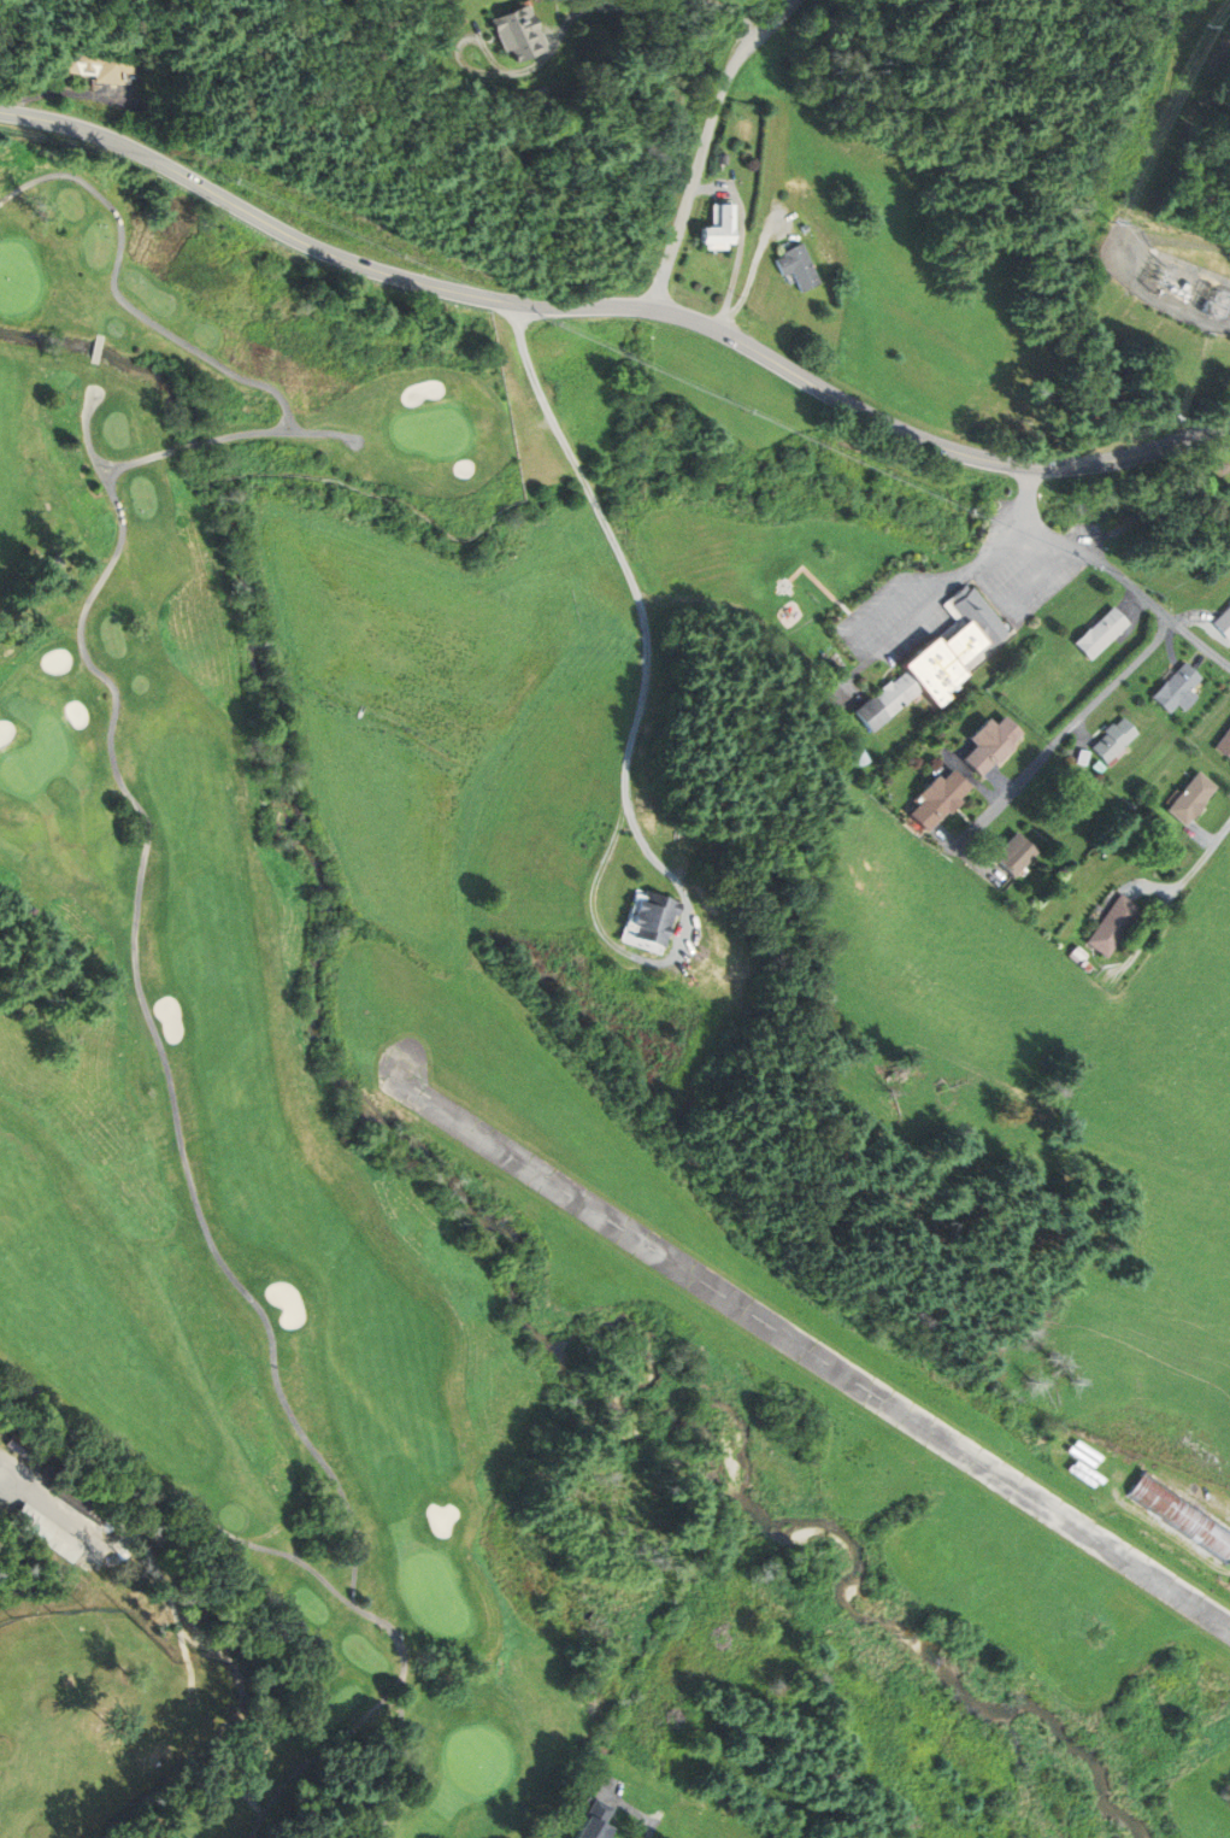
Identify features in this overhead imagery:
power tower: (1201, 24)
road: (566, 25)
building: (519, 33)
building: (100, 65)
road: (69, 93)
road: (704, 142)
power tower: (1107, 222)
building: (720, 228)
road: (742, 240)
building: (800, 266)
road: (754, 269)
power substation: (1166, 280)
road: (118, 299)
road: (616, 306)
road: (99, 348)
road: (282, 433)
road: (190, 446)
road: (137, 460)
road: (990, 559)
road: (1111, 571)
road: (1038, 577)
road: (884, 605)
road: (906, 623)
building: (1223, 623)
building: (1099, 634)
building: (943, 659)
building: (1176, 691)
road: (361, 712)
road: (1063, 738)
road: (636, 739)
building: (1112, 741)
building: (991, 745)
building: (1224, 745)
building: (1190, 800)
building: (938, 801)
building: (1016, 856)
road: (1173, 899)
building: (649, 920)
building: (1116, 927)
road: (141, 1002)
park: (249, 1116)
airport runway: (807, 1356)
airport: (848, 1393)
road: (1, 1460)
road: (51, 1495)
building: (1181, 1517)
road: (122, 1525)
building: (48, 1532)
road: (311, 1568)
road: (213, 1651)
road: (408, 1763)
building: (601, 1820)
road: (654, 1825)

